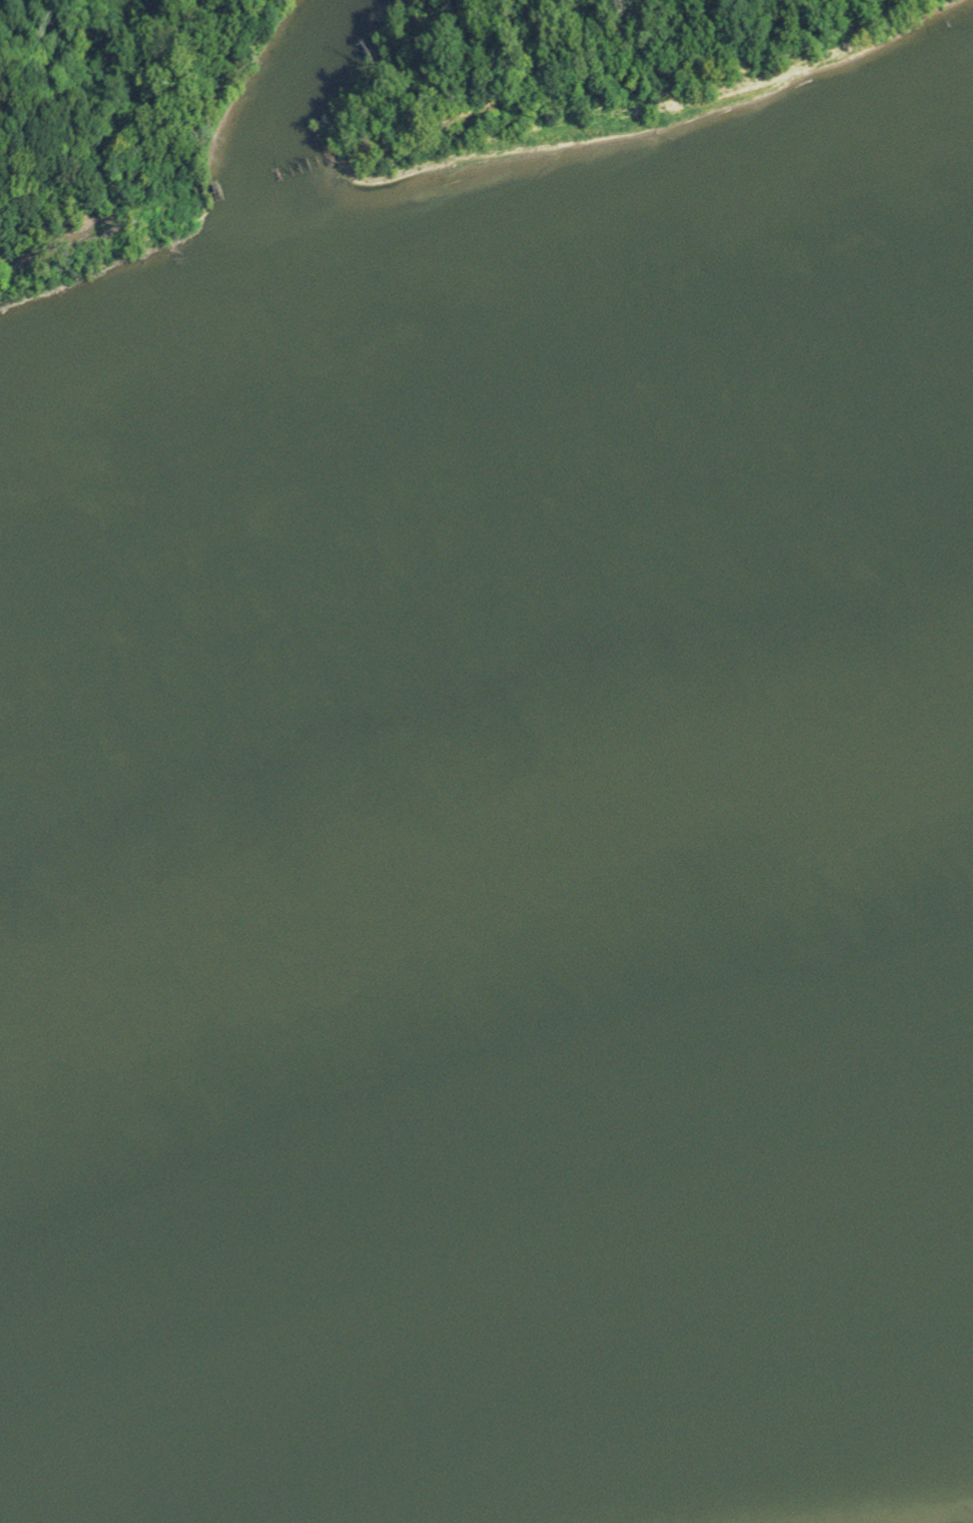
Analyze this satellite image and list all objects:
river: (224, 571)
river: (486, 1078)

